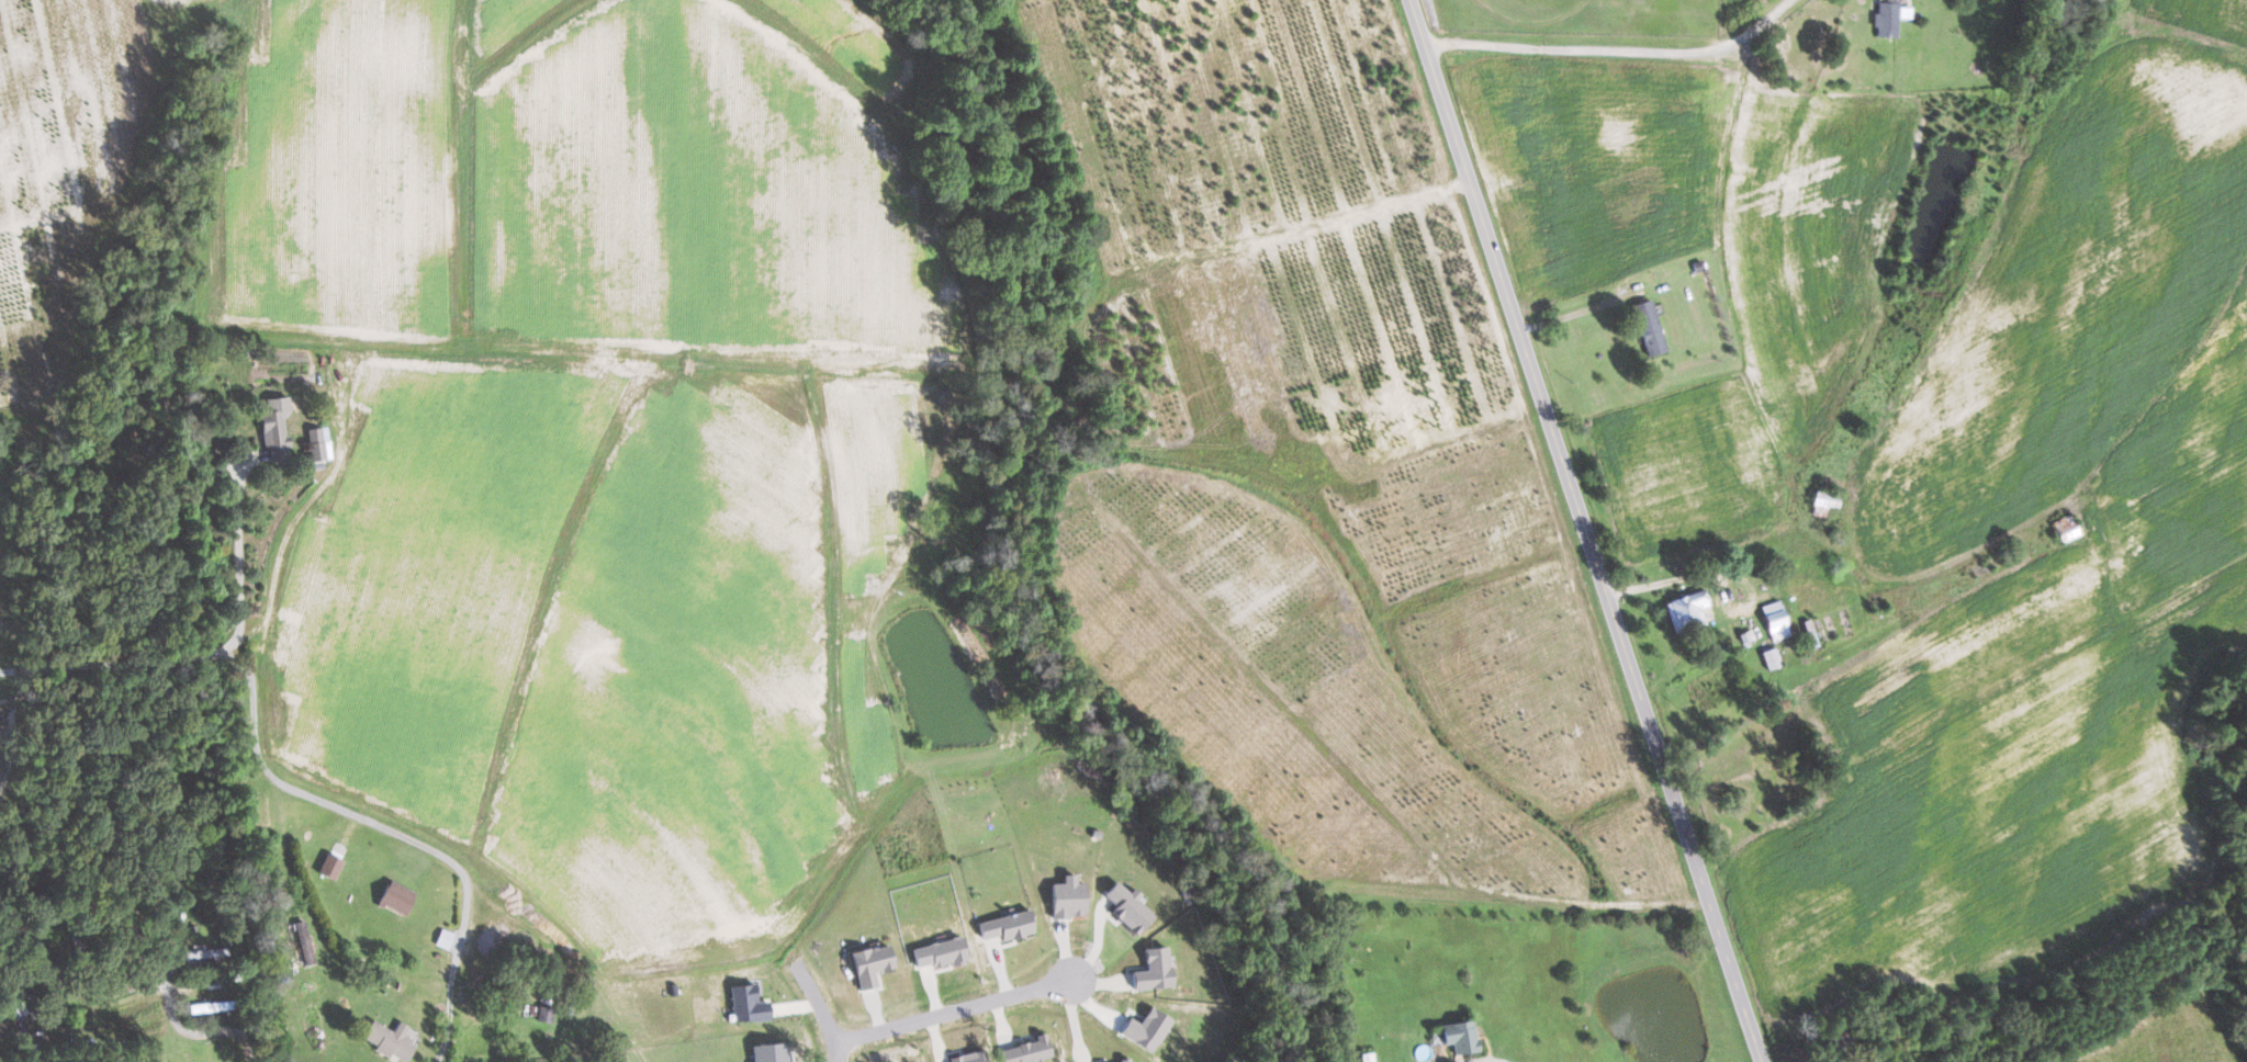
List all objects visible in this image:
building: (1888, 19)
road: (1611, 50)
road: (1570, 314)
building: (1649, 327)
building: (274, 427)
building: (318, 443)
building: (1824, 501)
road: (1582, 532)
road: (1714, 575)
building: (1687, 611)
building: (1776, 620)
road: (207, 652)
building: (1771, 658)
road: (392, 831)
building: (329, 866)
building: (395, 897)
building: (1067, 900)
building: (1128, 908)
building: (1007, 926)
building: (443, 938)
building: (303, 942)
building: (940, 953)
building: (870, 965)
building: (1154, 970)
building: (748, 1005)
road: (948, 1008)
road: (820, 1013)
building: (544, 1015)
building: (1146, 1029)
road: (192, 1033)
building: (1460, 1035)
building: (389, 1040)
building: (1027, 1051)
building: (768, 1052)
building: (1368, 1057)
building: (1126, 1061)

